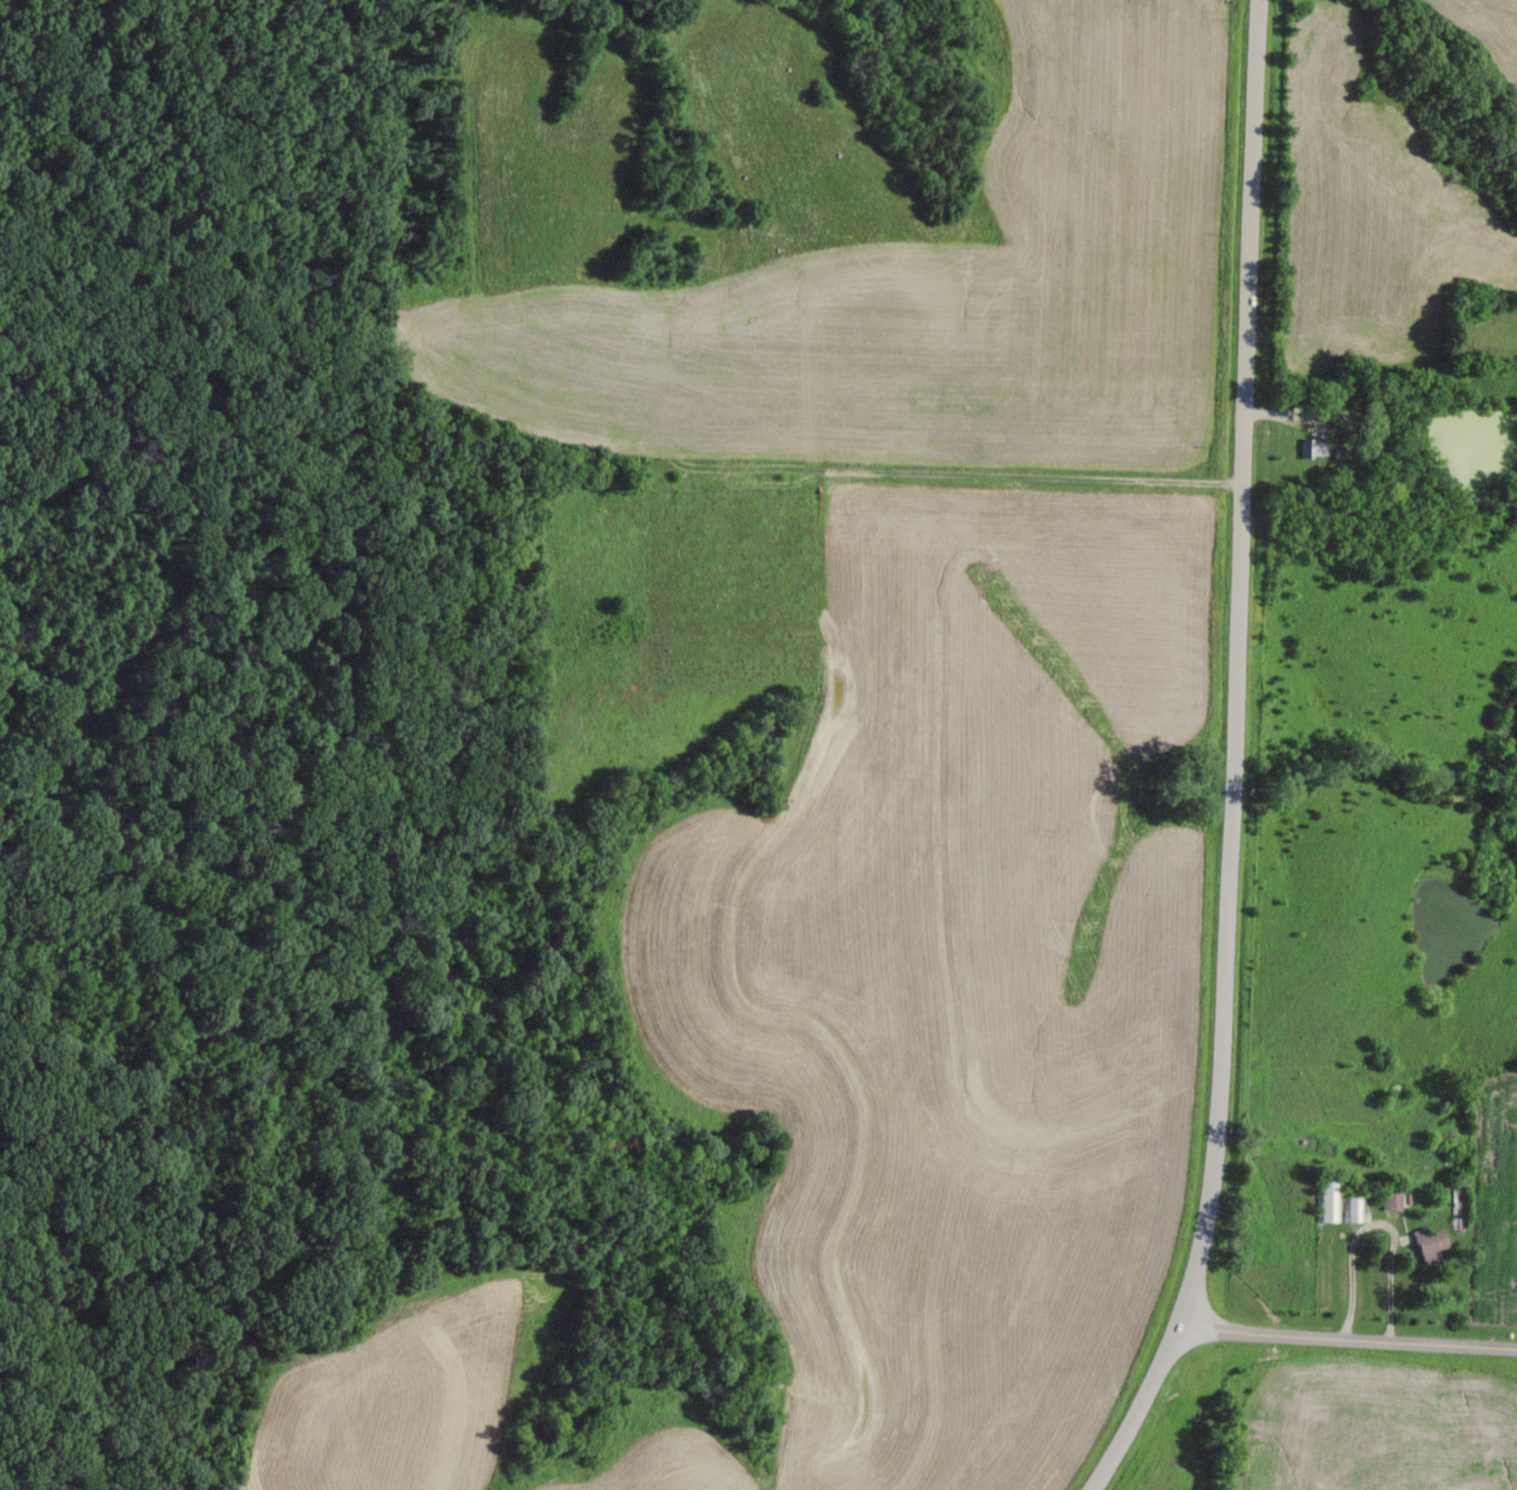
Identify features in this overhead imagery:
building: (1316, 448)
road: (1235, 758)
building: (1330, 1203)
building: (1393, 1203)
building: (1355, 1209)
building: (1458, 1210)
road: (1377, 1223)
building: (1431, 1245)
building: (1339, 1251)
road: (1348, 1337)

